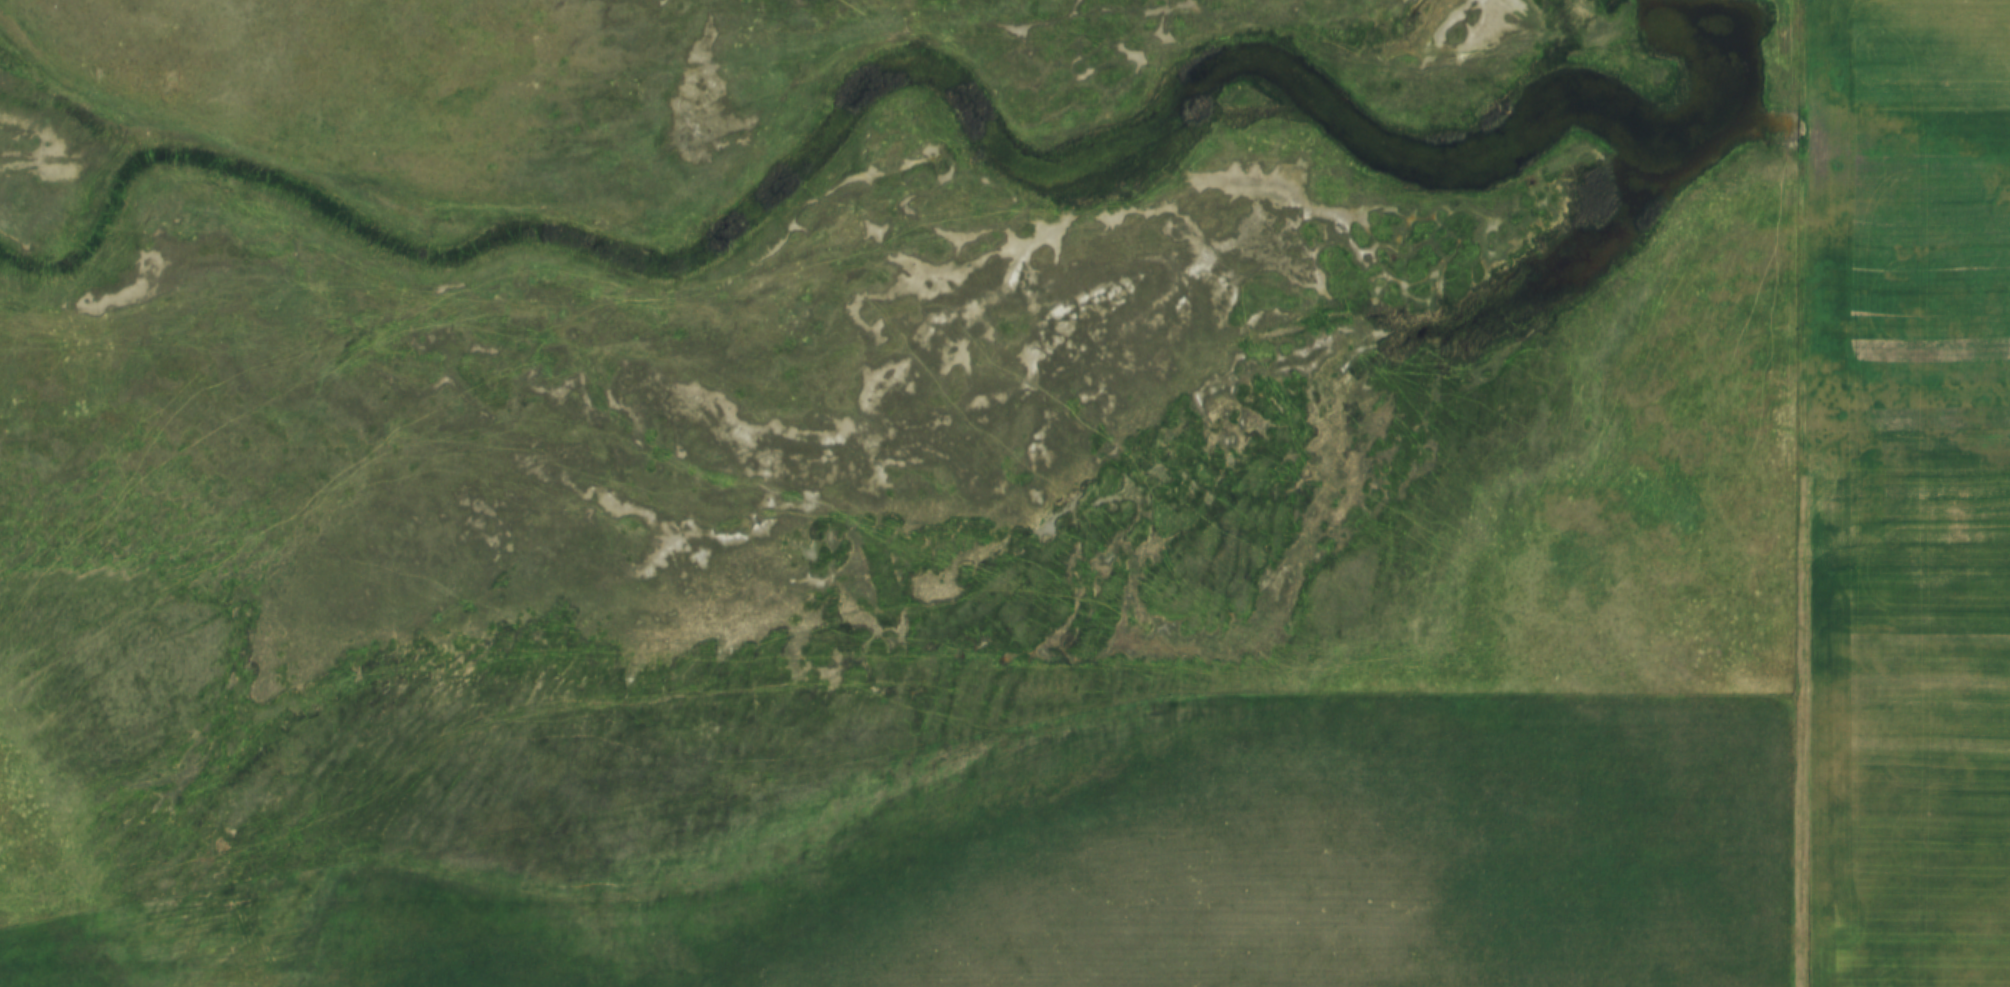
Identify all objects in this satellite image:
road: (1803, 770)

